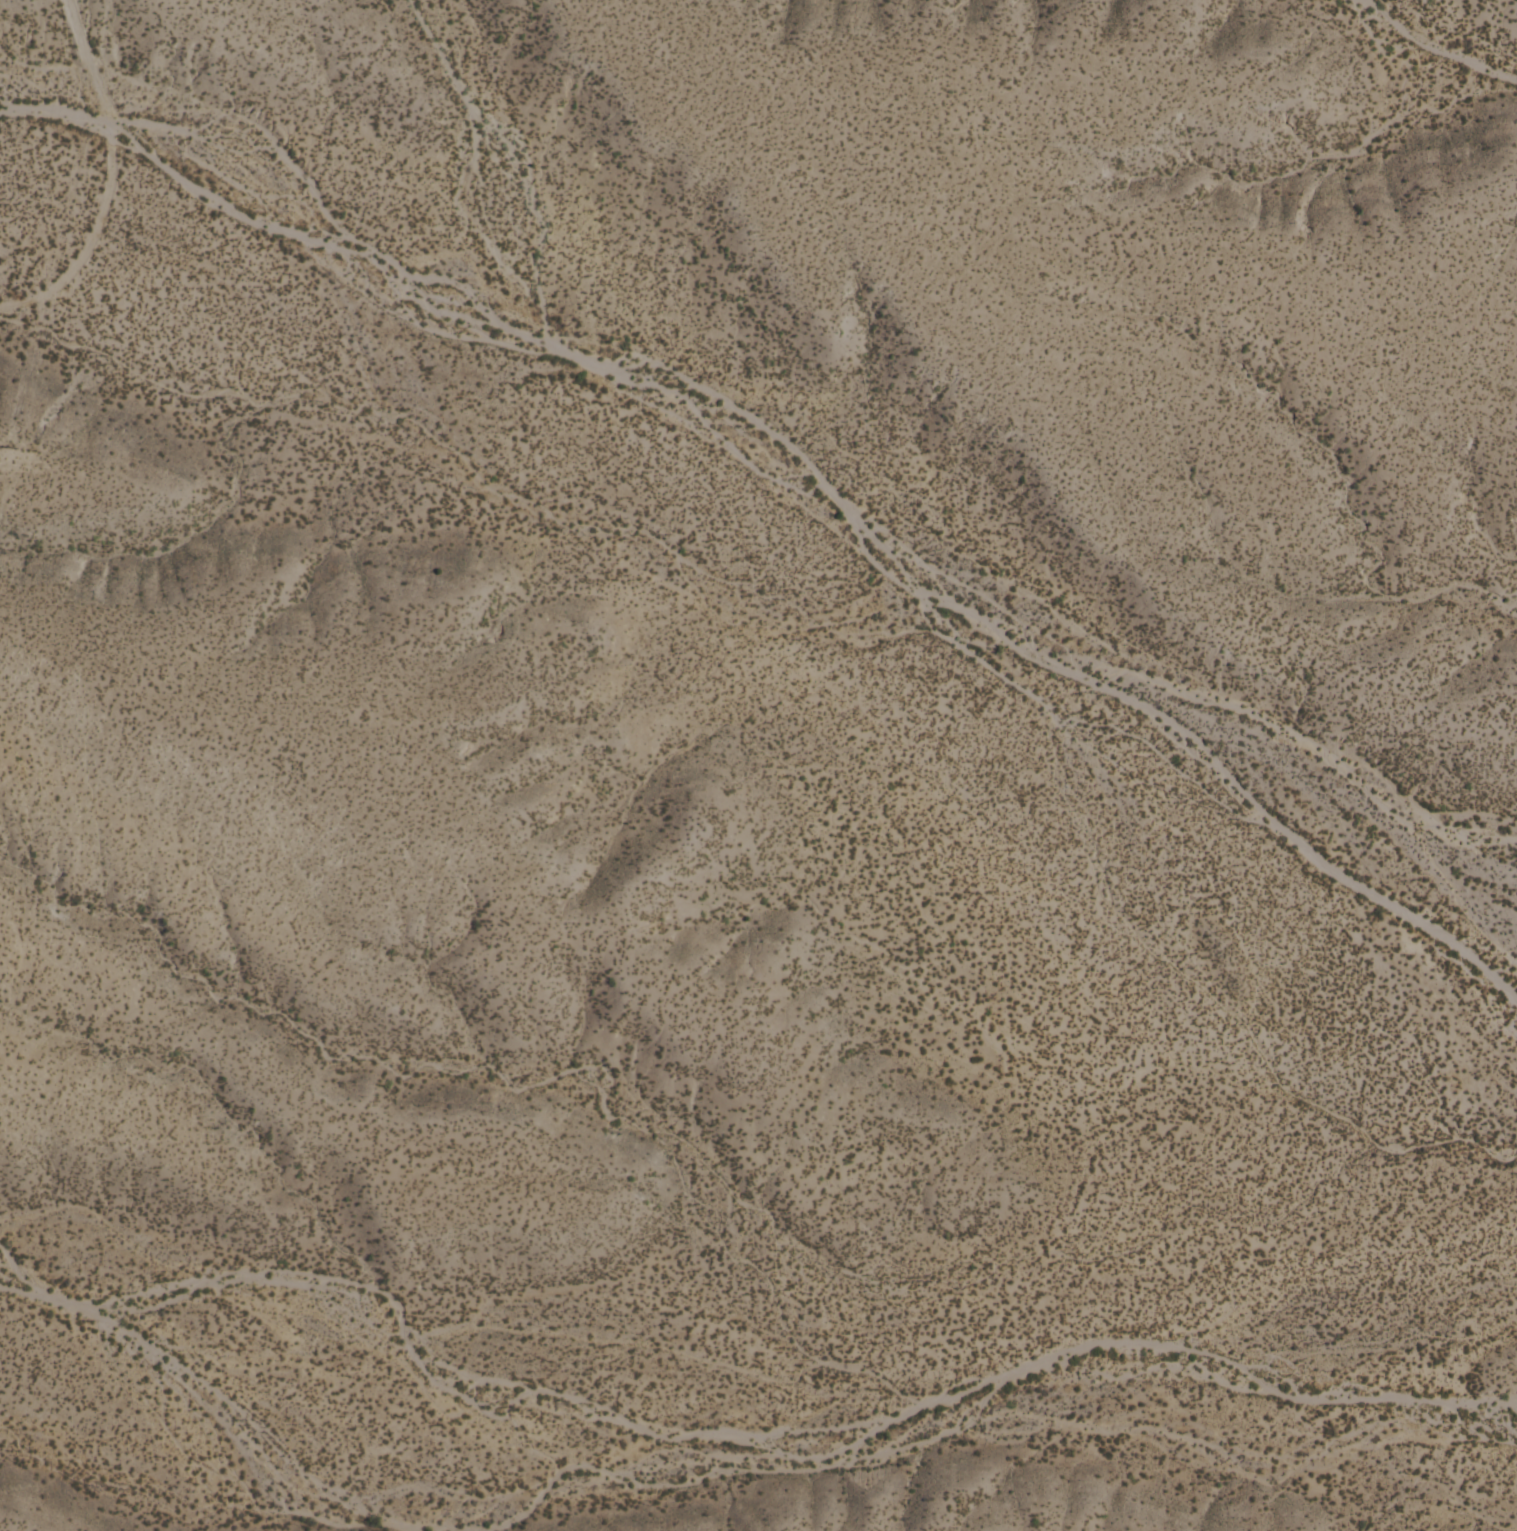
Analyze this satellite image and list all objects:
road: (105, 175)
road: (10, 459)
road: (9, 482)

